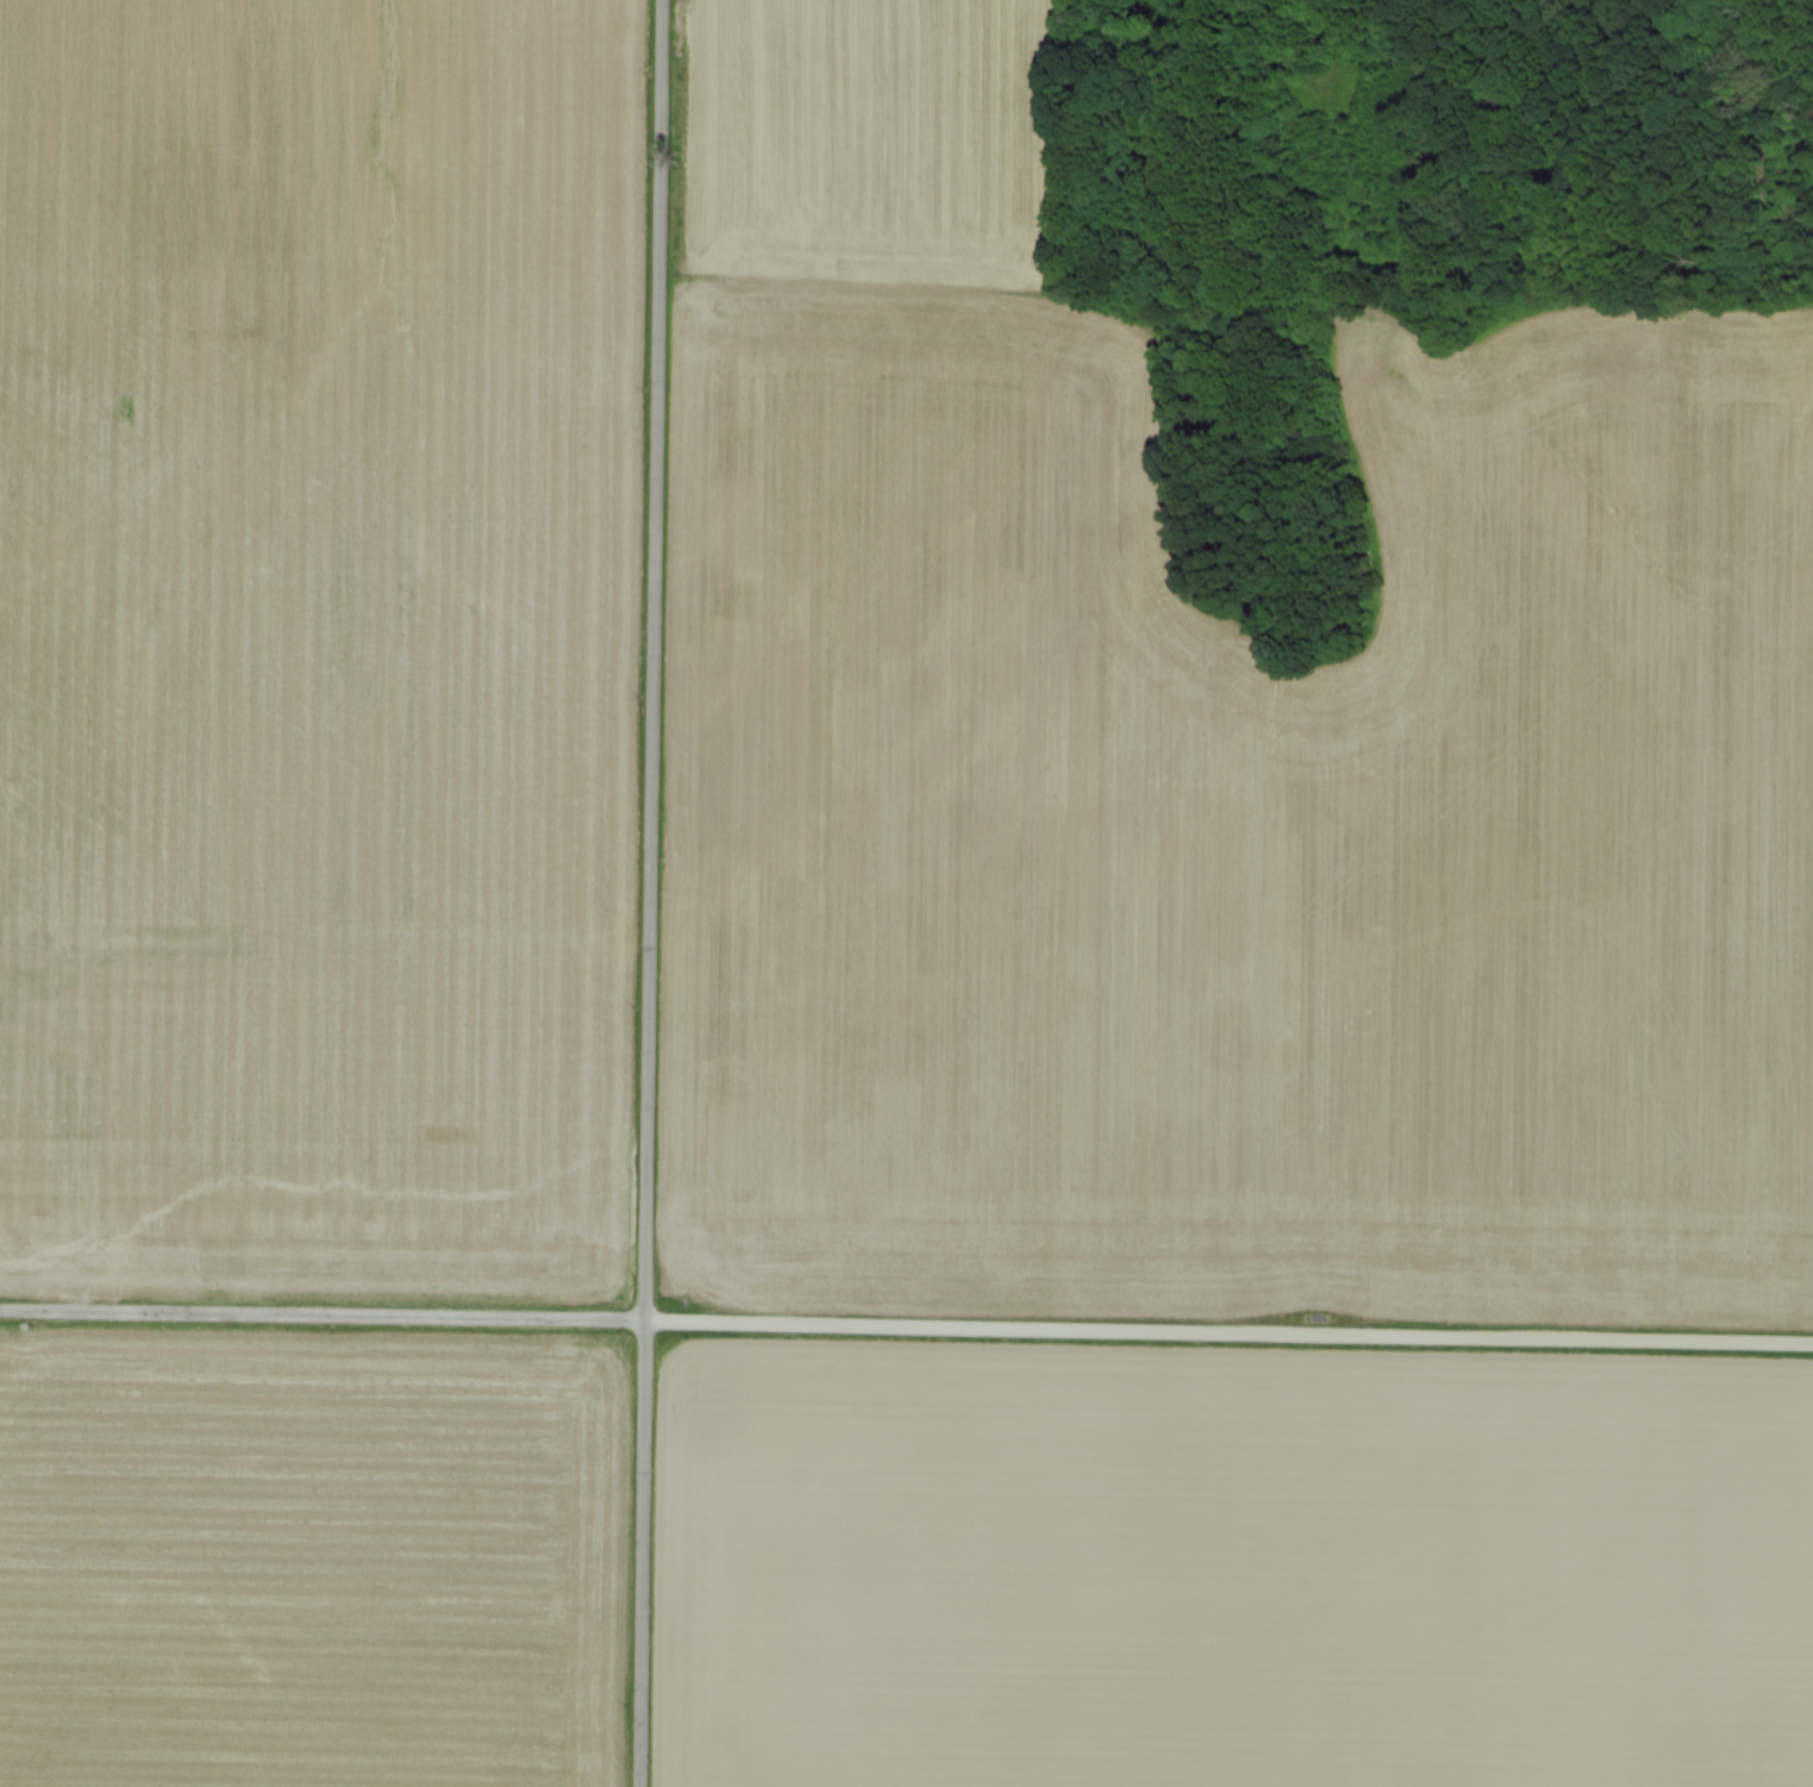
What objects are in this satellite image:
road: (1327, 13)
road: (654, 893)
road: (906, 1332)

